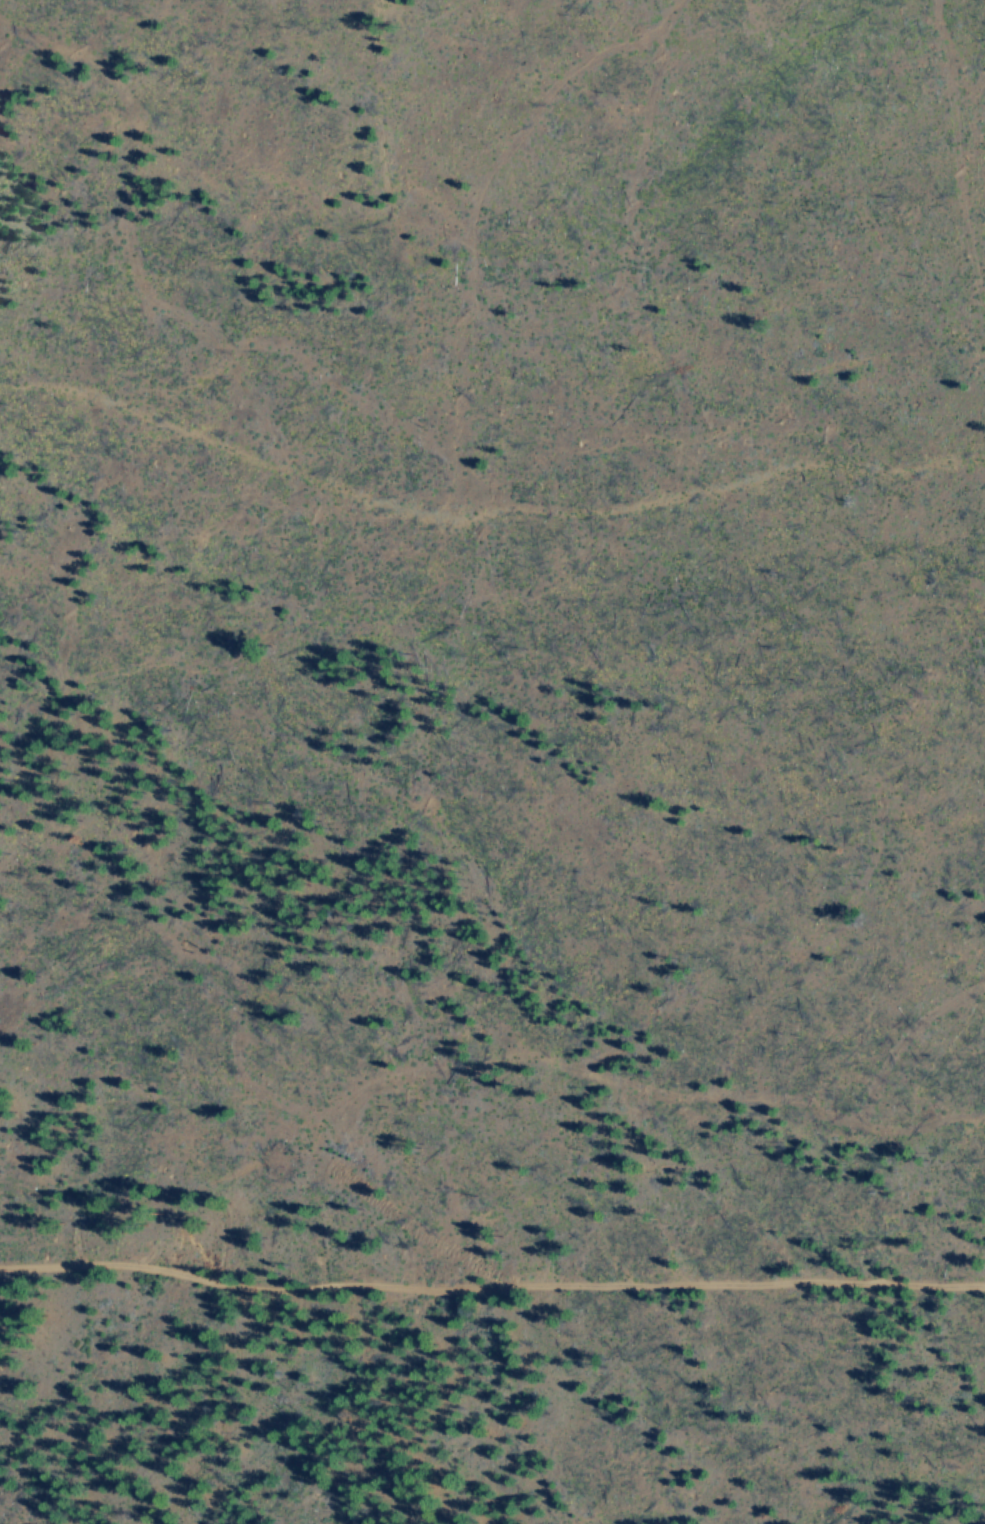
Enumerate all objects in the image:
road: (492, 1281)

